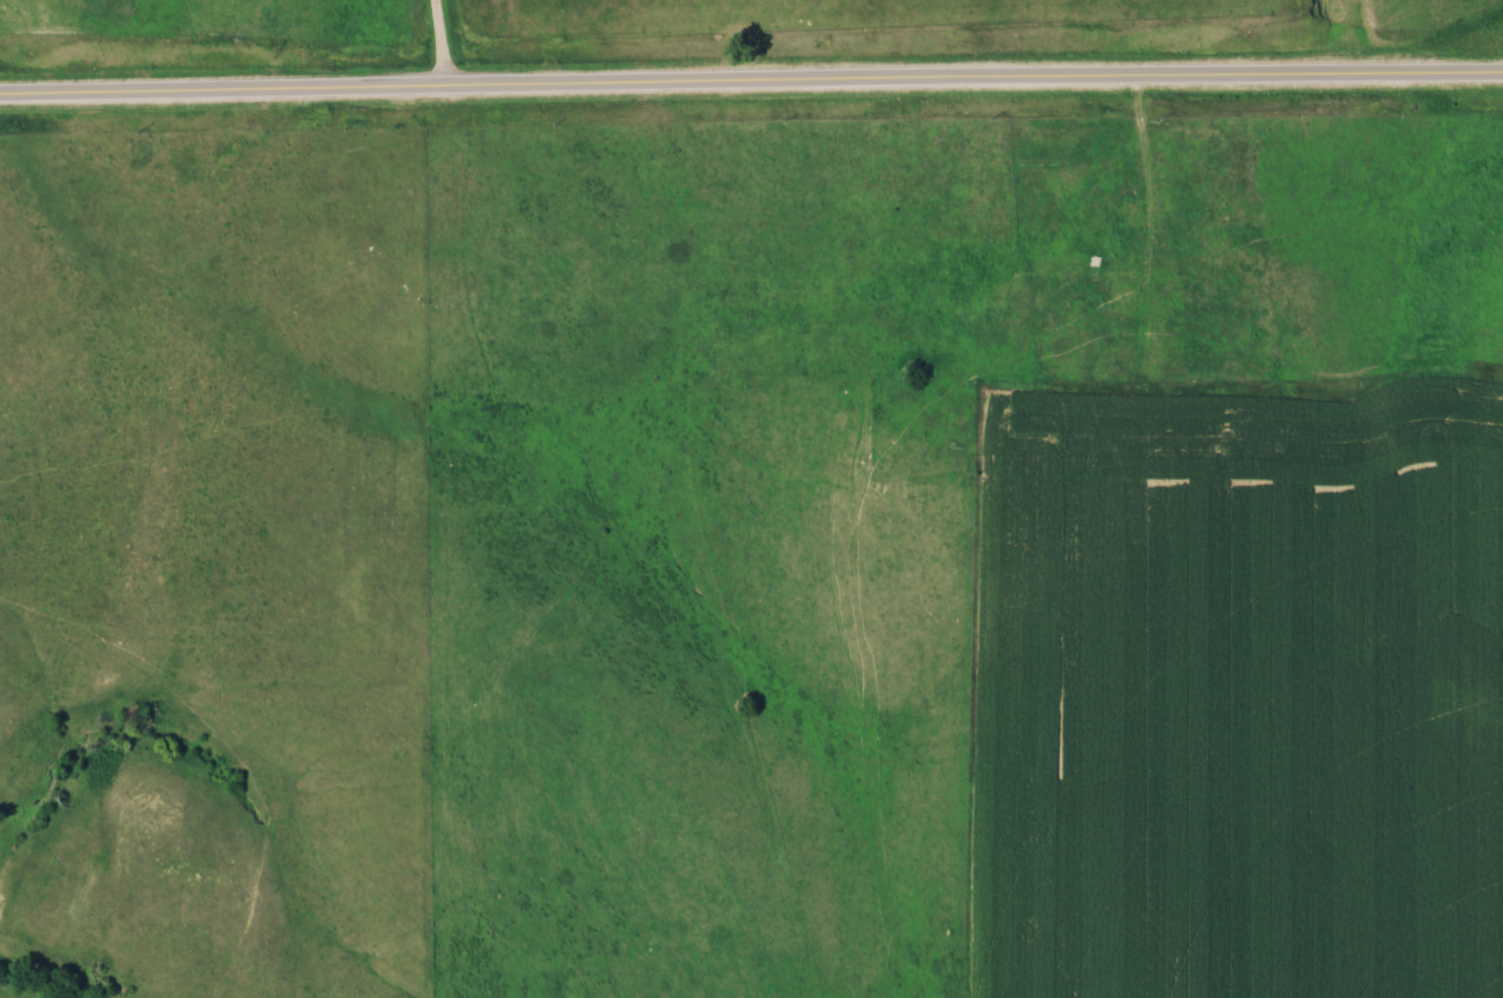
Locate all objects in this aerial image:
road: (441, 45)
road: (751, 86)

